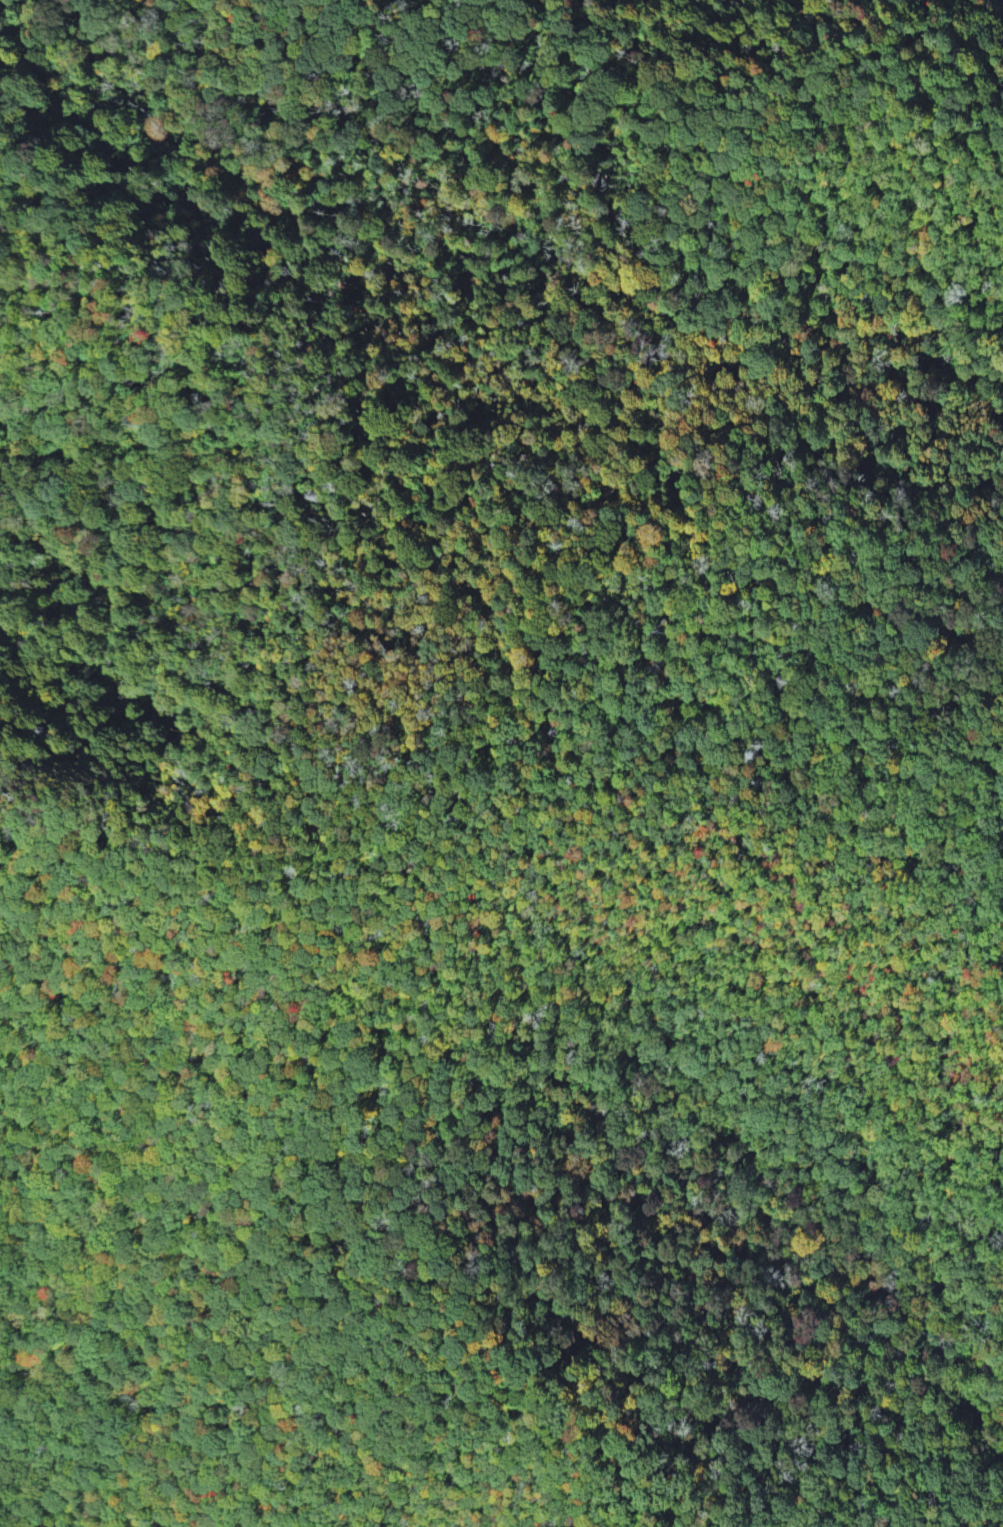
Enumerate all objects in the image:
road: (996, 430)
road: (489, 587)
road: (883, 1340)
river: (995, 1414)

